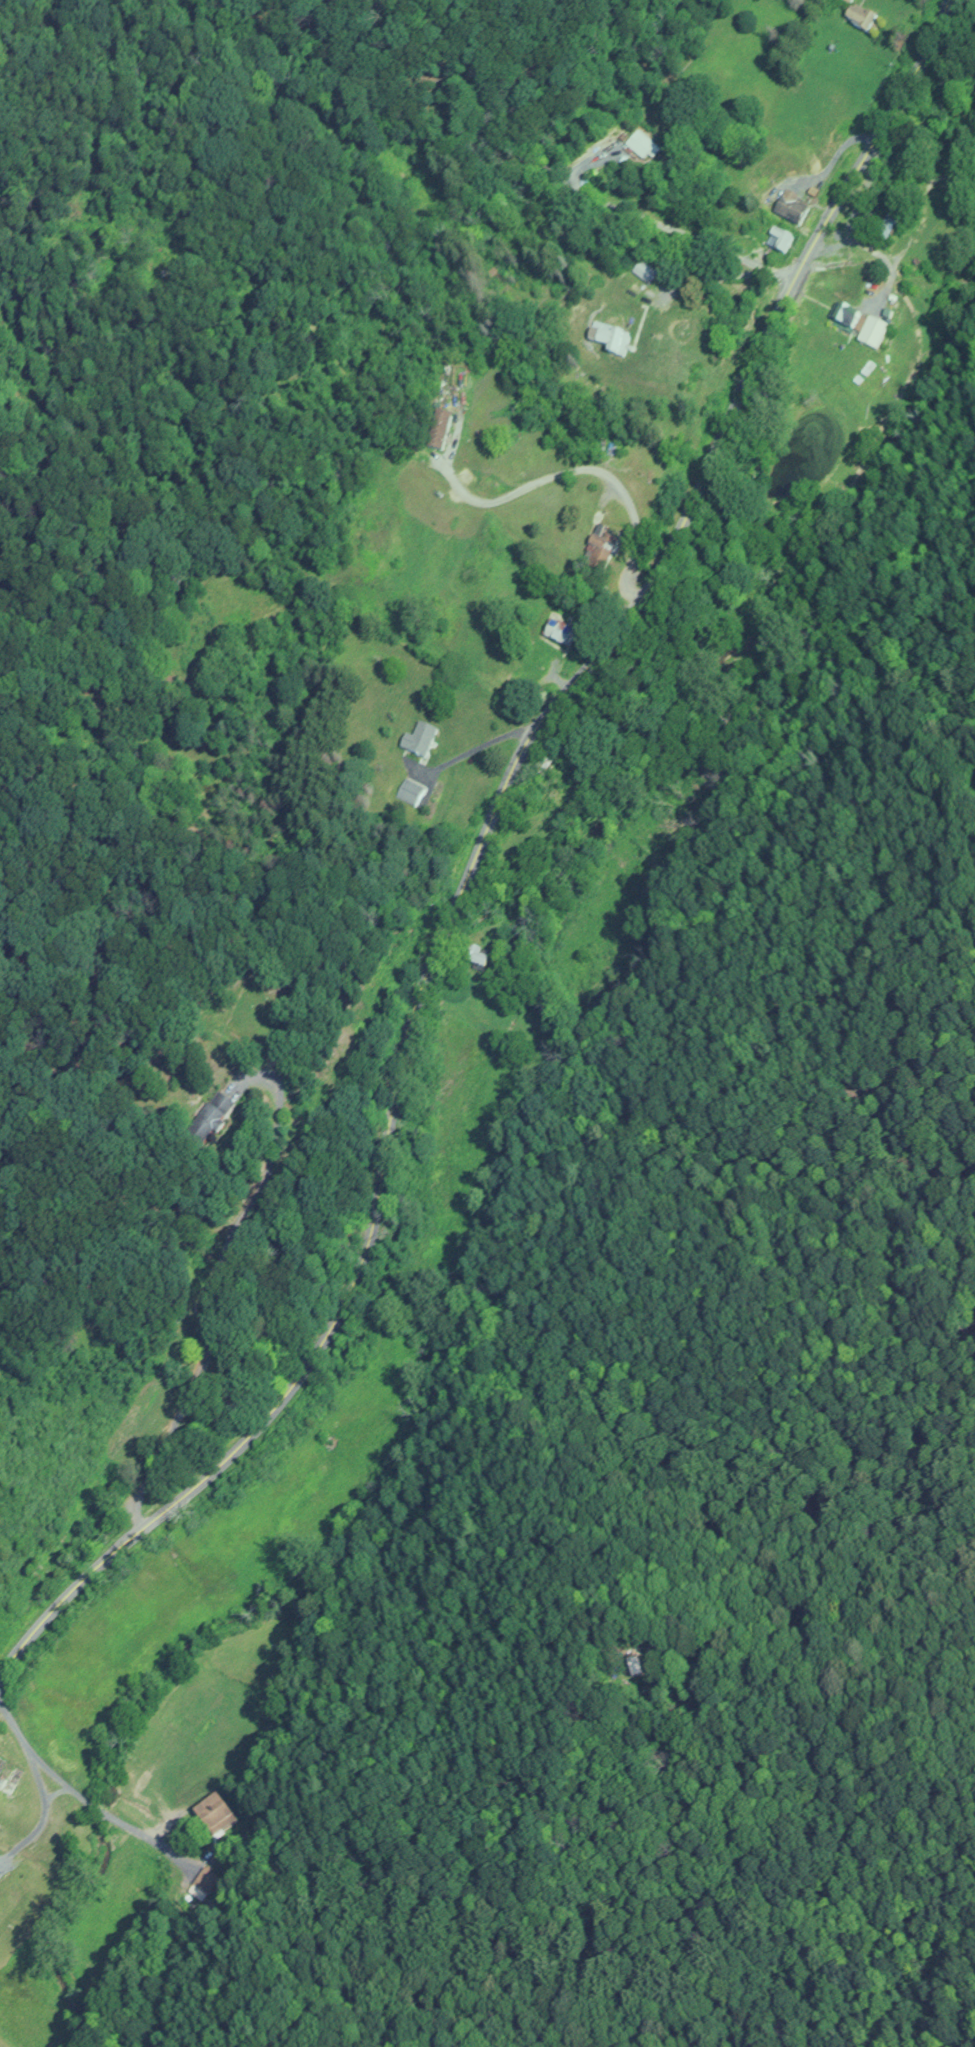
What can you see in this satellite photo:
road: (645, 217)
road: (778, 268)
road: (565, 690)
road: (218, 1282)
road: (129, 1540)
road: (79, 1792)
road: (44, 1805)

